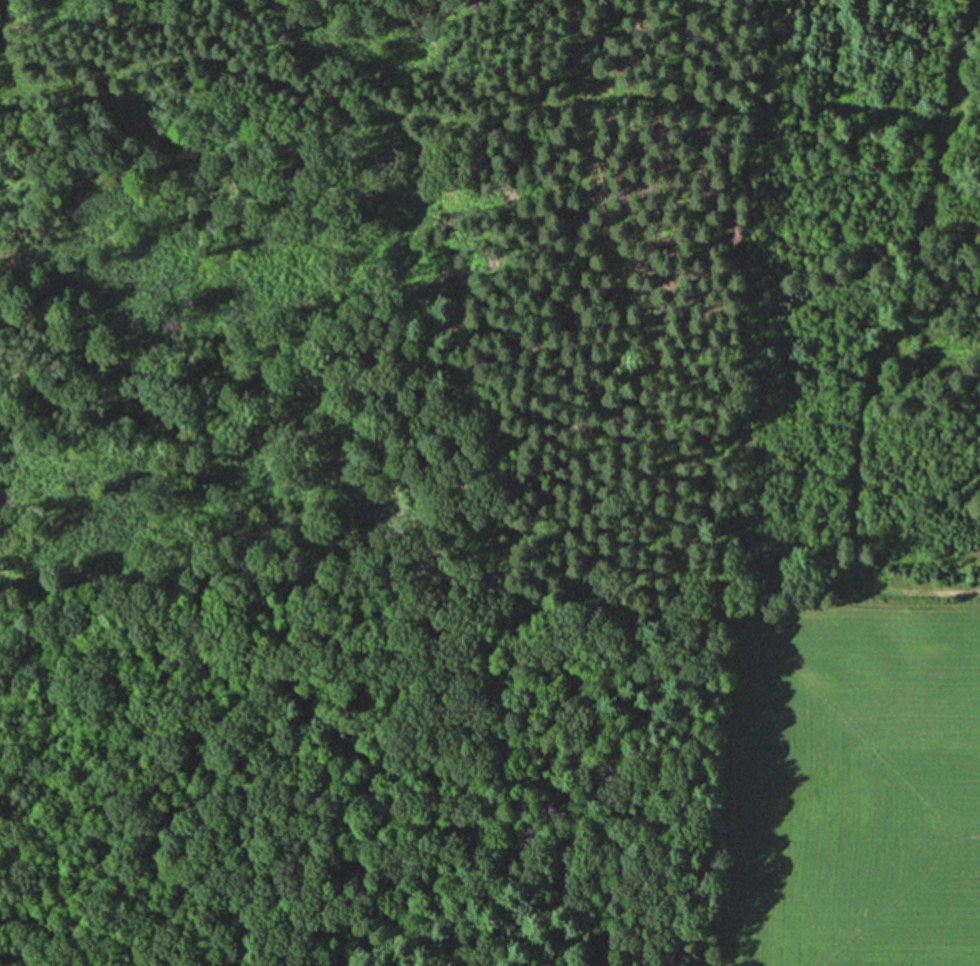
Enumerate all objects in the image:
road: (883, 350)

